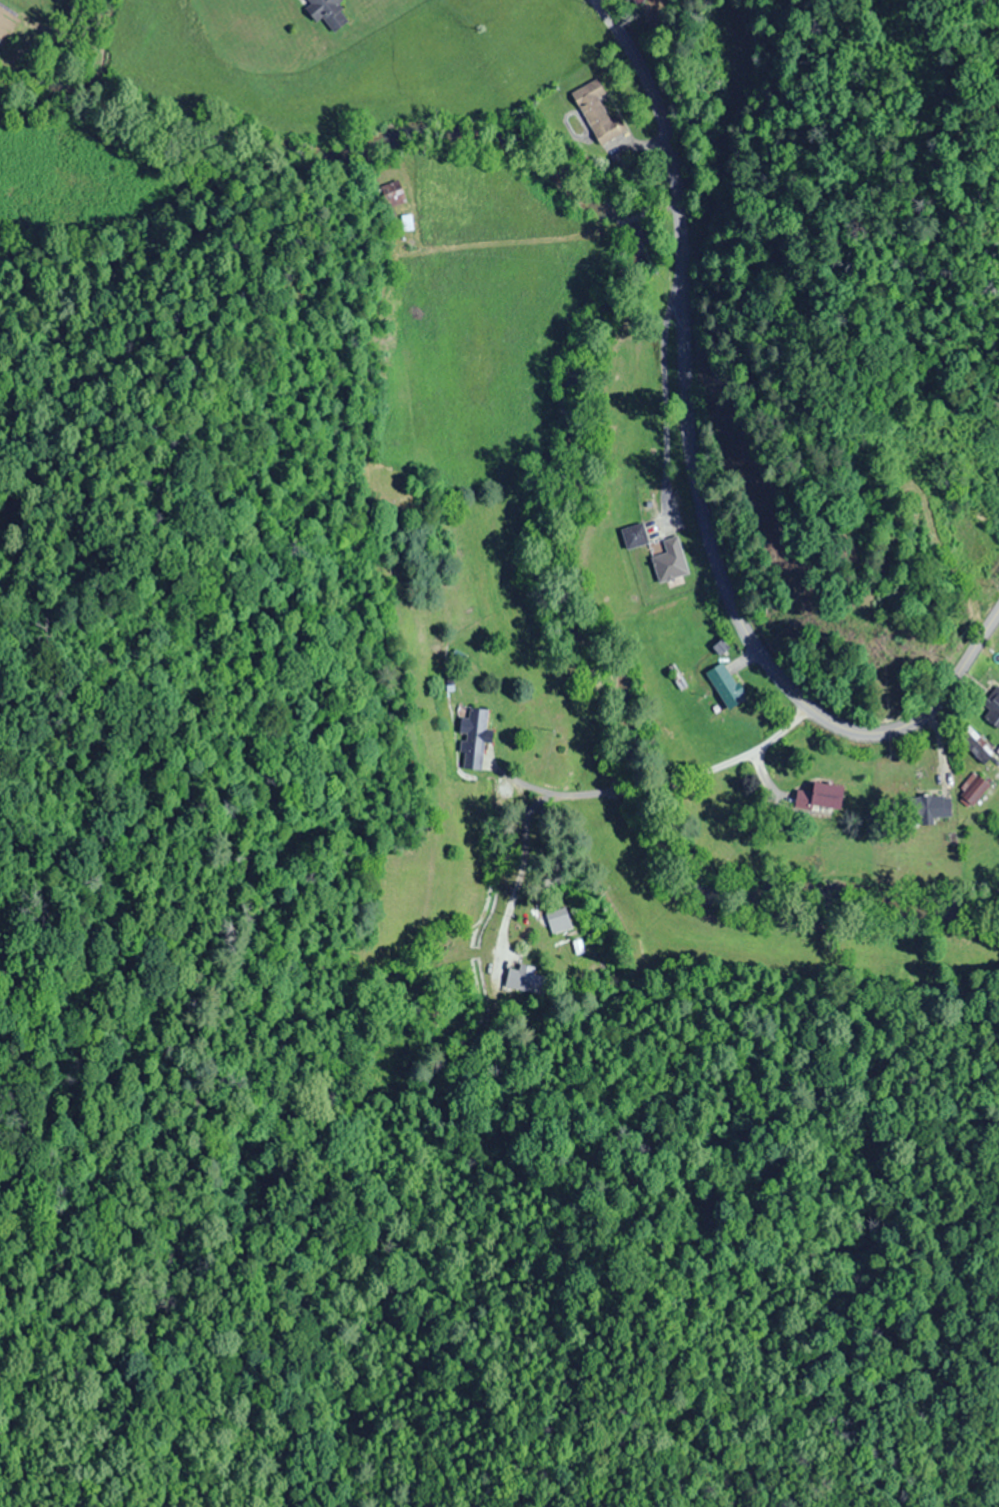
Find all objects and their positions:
building: (637, 1)
building: (327, 12)
building: (596, 113)
building: (392, 194)
building: (406, 223)
road: (693, 489)
building: (634, 536)
building: (670, 560)
building: (729, 692)
building: (992, 707)
building: (476, 738)
building: (973, 743)
building: (972, 789)
building: (819, 795)
road: (591, 797)
building: (926, 807)
building: (526, 974)

